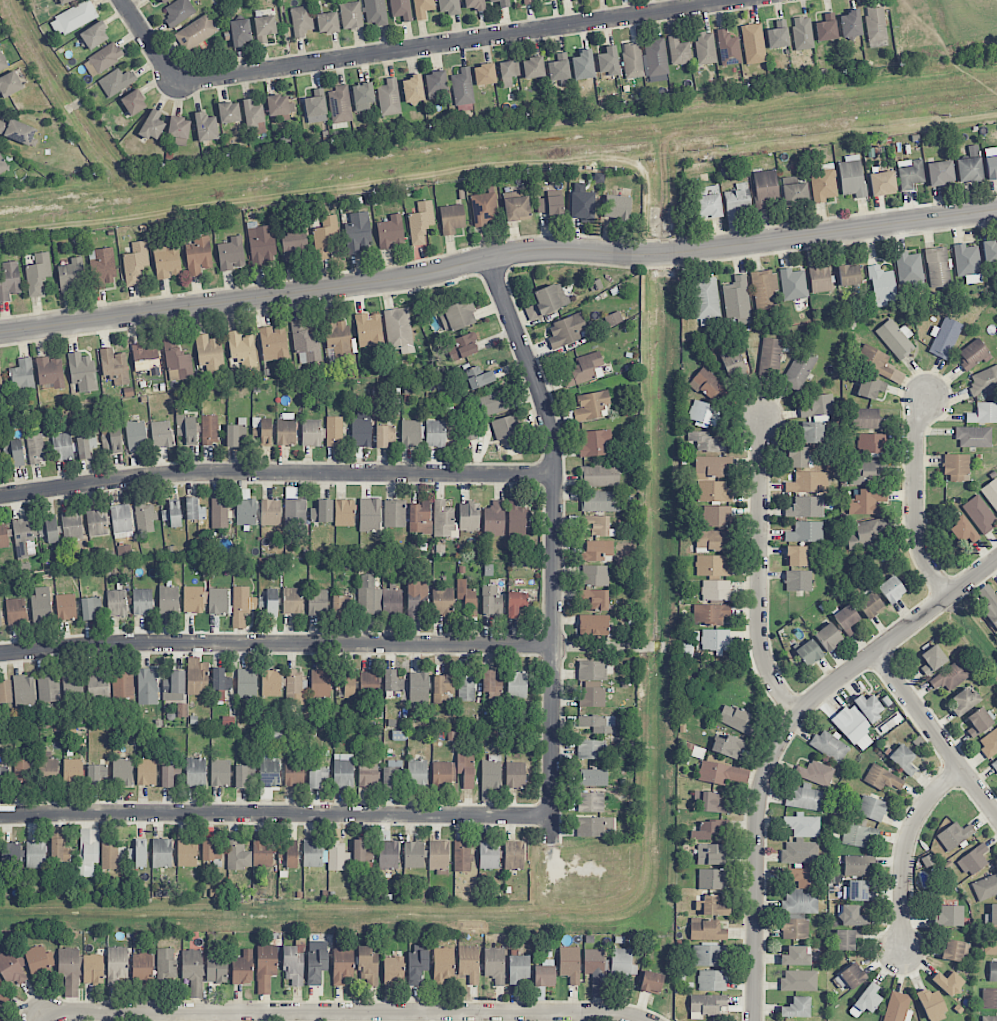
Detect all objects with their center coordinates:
building: (540, 0)
building: (64, 1)
building: (164, 1)
building: (528, 1)
building: (501, 2)
building: (474, 4)
building: (449, 6)
building: (422, 8)
building: (401, 9)
building: (178, 12)
building: (376, 12)
building: (351, 15)
building: (73, 18)
building: (301, 20)
building: (327, 22)
building: (851, 23)
building: (875, 24)
building: (265, 25)
building: (826, 27)
building: (195, 32)
building: (240, 32)
building: (802, 33)
building: (94, 35)
building: (778, 35)
road: (147, 42)
road: (461, 42)
building: (753, 43)
building: (705, 48)
building: (728, 48)
building: (679, 51)
building: (103, 59)
building: (632, 60)
building: (655, 60)
building: (608, 61)
building: (2, 62)
building: (583, 65)
building: (533, 67)
building: (559, 67)
building: (508, 72)
building: (484, 74)
building: (116, 81)
building: (10, 84)
building: (435, 84)
building: (462, 87)
building: (413, 88)
building: (362, 97)
building: (389, 98)
building: (134, 102)
building: (277, 105)
building: (315, 105)
building: (340, 105)
building: (228, 112)
building: (252, 113)
building: (152, 125)
building: (205, 127)
building: (179, 130)
building: (18, 131)
building: (973, 151)
building: (3, 165)
building: (991, 167)
building: (969, 169)
building: (910, 173)
building: (940, 173)
building: (851, 176)
building: (882, 182)
building: (822, 183)
building: (766, 188)
building: (736, 202)
building: (581, 203)
building: (549, 205)
building: (708, 206)
building: (616, 207)
building: (484, 208)
building: (517, 209)
building: (451, 218)
building: (420, 222)
building: (357, 232)
building: (390, 232)
building: (324, 237)
building: (294, 242)
building: (261, 245)
building: (990, 252)
building: (231, 254)
road: (497, 255)
building: (198, 256)
building: (167, 261)
building: (135, 263)
building: (967, 263)
building: (937, 267)
building: (102, 268)
building: (909, 268)
building: (38, 274)
building: (72, 275)
building: (849, 275)
building: (820, 279)
building: (9, 280)
building: (793, 284)
building: (882, 286)
building: (764, 288)
building: (550, 298)
building: (737, 300)
building: (706, 301)
building: (460, 314)
building: (613, 318)
building: (369, 329)
building: (399, 330)
building: (566, 330)
building: (895, 338)
building: (944, 338)
building: (305, 341)
building: (273, 343)
building: (462, 347)
building: (241, 350)
building: (210, 353)
building: (973, 354)
building: (770, 357)
building: (146, 358)
building: (176, 361)
building: (875, 361)
building: (734, 364)
building: (114, 366)
building: (584, 370)
building: (799, 370)
building: (50, 371)
building: (82, 371)
building: (22, 374)
building: (479, 377)
building: (0, 380)
building: (983, 381)
building: (710, 385)
building: (870, 387)
building: (494, 403)
building: (591, 405)
building: (818, 405)
building: (983, 413)
building: (704, 414)
building: (867, 419)
building: (505, 427)
building: (187, 429)
building: (209, 430)
building: (235, 432)
building: (286, 432)
building: (334, 432)
building: (361, 432)
building: (468, 432)
building: (812, 432)
building: (312, 433)
building: (410, 433)
building: (435, 433)
building: (161, 434)
building: (260, 434)
building: (136, 435)
building: (385, 436)
building: (111, 437)
building: (974, 437)
building: (594, 442)
building: (706, 442)
building: (871, 443)
building: (62, 446)
building: (35, 448)
building: (14, 450)
building: (797, 457)
building: (711, 466)
building: (956, 467)
building: (868, 471)
road: (276, 472)
building: (599, 475)
building: (807, 482)
building: (714, 492)
building: (991, 493)
road: (916, 496)
building: (601, 501)
building: (866, 502)
building: (294, 507)
building: (806, 507)
building: (245, 508)
building: (194, 509)
building: (270, 512)
building: (322, 512)
building: (344, 512)
building: (219, 513)
building: (394, 513)
building: (172, 514)
building: (979, 514)
building: (369, 515)
building: (716, 516)
building: (420, 517)
building: (469, 517)
building: (145, 518)
building: (443, 519)
building: (494, 519)
building: (121, 520)
building: (517, 520)
building: (97, 522)
building: (71, 525)
building: (596, 525)
building: (963, 531)
building: (805, 532)
building: (33, 534)
building: (4, 535)
building: (863, 535)
building: (714, 540)
road: (554, 545)
building: (598, 550)
building: (124, 551)
building: (795, 556)
building: (712, 566)
road: (760, 572)
building: (595, 575)
building: (798, 580)
building: (891, 589)
building: (715, 590)
building: (467, 596)
building: (595, 599)
building: (168, 600)
building: (193, 600)
building: (413, 600)
building: (218, 601)
building: (292, 601)
building: (379, 601)
building: (442, 601)
building: (491, 601)
building: (142, 602)
building: (317, 602)
building: (116, 603)
building: (269, 603)
building: (515, 603)
building: (989, 604)
building: (41, 605)
building: (242, 605)
building: (870, 605)
building: (341, 606)
building: (66, 607)
building: (90, 607)
building: (16, 611)
building: (0, 615)
building: (708, 615)
building: (846, 619)
building: (593, 625)
building: (828, 637)
building: (715, 639)
road: (276, 643)
building: (809, 652)
building: (932, 659)
building: (593, 671)
building: (950, 676)
building: (197, 677)
building: (220, 680)
building: (393, 681)
building: (247, 683)
building: (271, 683)
building: (320, 683)
building: (346, 683)
building: (491, 683)
building: (98, 684)
building: (122, 684)
building: (294, 684)
building: (369, 684)
building: (517, 684)
building: (72, 686)
building: (147, 686)
building: (174, 686)
building: (442, 687)
building: (466, 688)
building: (48, 689)
building: (418, 689)
building: (23, 690)
building: (5, 691)
building: (592, 697)
building: (962, 701)
building: (735, 718)
building: (859, 720)
building: (978, 722)
building: (598, 723)
road: (936, 731)
road: (780, 741)
building: (989, 743)
building: (727, 746)
building: (829, 746)
building: (591, 749)
building: (903, 759)
building: (48, 765)
building: (994, 766)
building: (465, 768)
building: (21, 770)
building: (122, 771)
building: (343, 771)
building: (72, 772)
building: (146, 772)
building: (195, 772)
building: (491, 772)
building: (220, 773)
building: (269, 773)
building: (417, 773)
building: (722, 773)
building: (815, 773)
building: (96, 774)
building: (295, 774)
building: (367, 774)
building: (169, 775)
building: (515, 775)
building: (240, 776)
building: (317, 776)
building: (594, 777)
building: (0, 779)
building: (882, 779)
building: (804, 797)
building: (590, 802)
building: (711, 802)
building: (871, 808)
road: (275, 814)
building: (802, 825)
building: (596, 827)
building: (710, 829)
building: (954, 835)
building: (859, 836)
building: (207, 849)
building: (358, 850)
building: (59, 851)
building: (336, 851)
road: (905, 851)
building: (88, 852)
building: (800, 852)
building: (162, 853)
building: (186, 853)
building: (262, 853)
building: (10, 854)
building: (35, 854)
building: (138, 854)
building: (289, 854)
building: (388, 854)
building: (413, 854)
building: (710, 854)
building: (109, 855)
building: (369, 855)
building: (438, 855)
building: (489, 855)
building: (514, 855)
building: (238, 856)
building: (462, 858)
building: (972, 860)
building: (859, 864)
building: (711, 879)
building: (985, 886)
building: (801, 890)
building: (857, 891)
building: (715, 909)
building: (992, 915)
building: (850, 916)
building: (948, 916)
building: (795, 928)
building: (706, 930)
building: (846, 939)
building: (990, 942)
building: (954, 950)
building: (709, 955)
building: (795, 956)
building: (39, 961)
building: (316, 961)
building: (593, 961)
building: (468, 963)
building: (569, 963)
building: (622, 963)
building: (117, 964)
building: (443, 964)
building: (494, 964)
building: (165, 965)
building: (293, 966)
building: (342, 966)
building: (368, 966)
building: (418, 966)
building: (142, 967)
building: (192, 967)
building: (265, 967)
building: (242, 968)
building: (518, 968)
building: (12, 969)
building: (93, 969)
building: (216, 969)
building: (393, 970)
building: (993, 971)
building: (69, 972)
building: (544, 976)
building: (848, 978)
building: (712, 980)
building: (799, 980)
building: (651, 982)
building: (948, 983)
building: (4, 994)
building: (989, 998)
building: (866, 1000)
building: (706, 1005)
building: (931, 1005)
building: (896, 1006)
building: (796, 1008)
road: (344, 1012)
road: (40, 1016)
building: (989, 1018)
building: (1, 1020)

